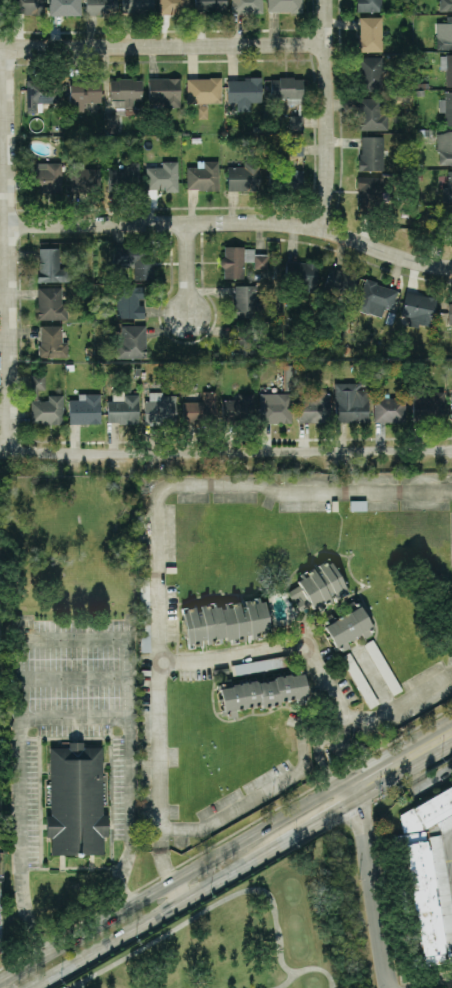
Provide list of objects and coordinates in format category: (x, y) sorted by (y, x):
building: (3, 5)
building: (210, 5)
building: (284, 5)
building: (369, 5)
building: (445, 5)
building: (28, 6)
building: (136, 6)
building: (173, 6)
building: (246, 6)
building: (65, 7)
building: (101, 7)
building: (370, 34)
building: (444, 34)
road: (162, 46)
building: (447, 67)
building: (370, 73)
building: (286, 88)
building: (204, 90)
building: (164, 91)
building: (126, 92)
building: (243, 92)
building: (83, 93)
building: (41, 94)
building: (447, 107)
building: (371, 113)
road: (329, 114)
building: (112, 123)
building: (296, 123)
building: (444, 147)
building: (296, 149)
building: (371, 153)
building: (124, 175)
building: (203, 176)
building: (244, 176)
building: (45, 177)
building: (162, 177)
building: (285, 177)
building: (82, 178)
building: (448, 189)
building: (370, 191)
road: (231, 223)
building: (450, 226)
road: (4, 250)
building: (135, 261)
building: (240, 261)
building: (51, 266)
road: (189, 271)
building: (300, 275)
building: (340, 284)
building: (376, 298)
building: (246, 301)
building: (129, 302)
building: (50, 304)
building: (419, 309)
building: (450, 313)
building: (245, 341)
building: (52, 342)
building: (132, 342)
building: (38, 385)
building: (451, 401)
building: (351, 402)
building: (428, 405)
building: (238, 407)
building: (275, 407)
building: (313, 407)
building: (160, 408)
building: (200, 408)
building: (85, 409)
building: (123, 409)
building: (389, 409)
building: (47, 410)
road: (226, 452)
building: (358, 505)
road: (156, 523)
building: (317, 587)
building: (224, 621)
building: (346, 626)
road: (48, 640)
road: (264, 651)
building: (258, 665)
road: (75, 679)
building: (359, 680)
road: (372, 681)
road: (394, 708)
road: (75, 714)
road: (323, 726)
road: (338, 726)
road: (403, 757)
road: (347, 767)
road: (323, 771)
road: (423, 783)
road: (274, 786)
road: (342, 788)
road: (336, 799)
road: (356, 800)
building: (72, 801)
road: (339, 808)
road: (293, 835)
road: (450, 835)
road: (450, 845)
road: (165, 865)
building: (428, 875)
road: (164, 884)
road: (175, 890)
road: (371, 901)
road: (148, 916)
park: (260, 933)
road: (436, 985)

